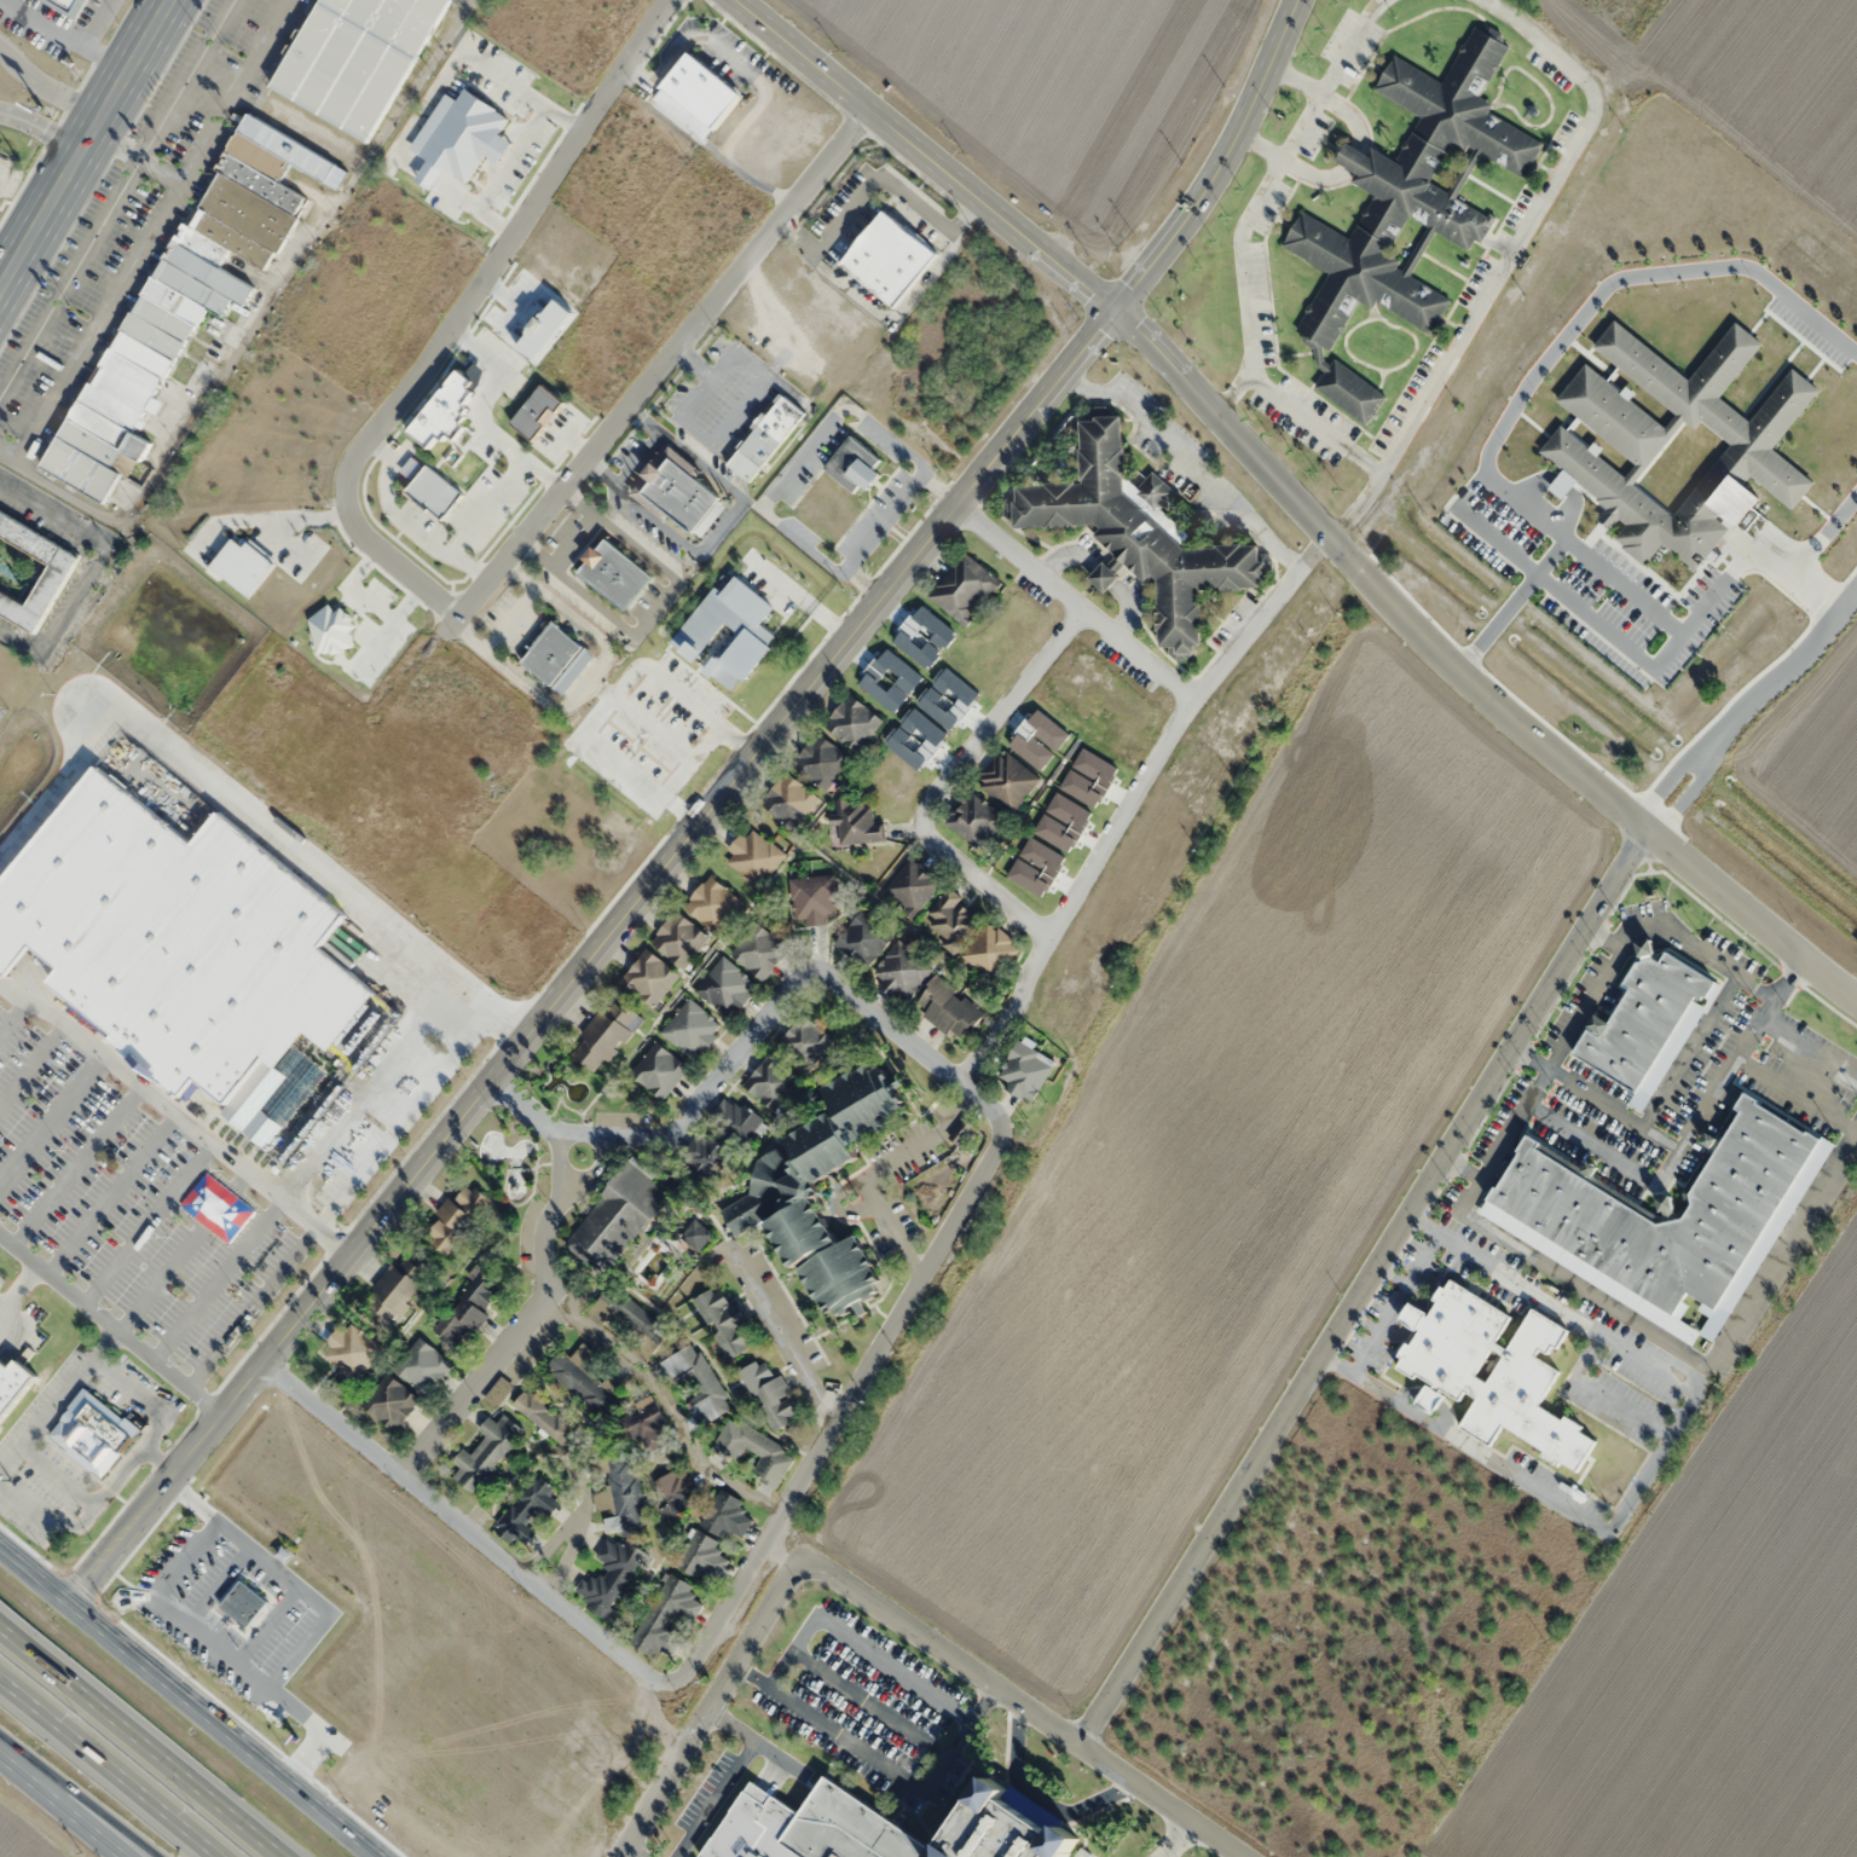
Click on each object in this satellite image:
building: (66, 6)
building: (355, 57)
road: (45, 86)
building: (696, 94)
road: (40, 129)
road: (83, 141)
building: (287, 146)
road: (920, 155)
road: (116, 197)
building: (1407, 208)
road: (150, 236)
road: (8, 250)
building: (887, 258)
building: (169, 317)
road: (458, 320)
road: (654, 371)
building: (766, 436)
road: (802, 455)
road: (637, 459)
building: (854, 464)
building: (676, 488)
road: (939, 490)
road: (885, 523)
road: (722, 527)
building: (1138, 532)
road: (92, 563)
building: (614, 573)
building: (54, 575)
road: (864, 584)
building: (964, 588)
road: (1076, 601)
building: (551, 653)
road: (1466, 672)
building: (852, 723)
building: (821, 760)
road: (947, 780)
building: (1007, 780)
road: (1132, 797)
building: (788, 800)
road: (704, 820)
building: (973, 820)
building: (857, 822)
building: (752, 856)
building: (910, 887)
building: (814, 898)
building: (712, 903)
building: (951, 920)
building: (863, 938)
building: (679, 939)
building: (759, 950)
building: (989, 953)
building: (192, 958)
building: (901, 971)
building: (649, 977)
building: (725, 988)
road: (1755, 990)
road: (1585, 1007)
building: (948, 1008)
road: (13, 1016)
building: (1642, 1019)
road: (890, 1023)
building: (692, 1029)
building: (604, 1034)
road: (1696, 1041)
building: (804, 1042)
road: (1810, 1054)
road: (1528, 1057)
road: (33, 1064)
building: (1024, 1069)
building: (659, 1070)
building: (771, 1081)
road: (702, 1097)
road: (1798, 1097)
road: (178, 1116)
road: (52, 1120)
road: (1664, 1139)
building: (706, 1155)
road: (77, 1165)
road: (1649, 1181)
building: (786, 1187)
road: (110, 1193)
building: (1666, 1210)
building: (456, 1216)
building: (619, 1216)
road: (147, 1223)
road: (181, 1251)
road: (1390, 1274)
road: (216, 1279)
road: (1360, 1284)
road: (18, 1288)
building: (397, 1289)
road: (544, 1289)
road: (1395, 1302)
road: (2, 1303)
road: (249, 1307)
building: (468, 1308)
building: (624, 1312)
road: (1361, 1320)
building: (724, 1323)
road: (111, 1325)
road: (783, 1334)
road: (102, 1344)
building: (351, 1349)
road: (1684, 1350)
building: (423, 1365)
building: (1493, 1371)
building: (584, 1381)
building: (13, 1382)
building: (698, 1383)
building: (769, 1393)
road: (1598, 1394)
building: (1430, 1399)
building: (391, 1401)
road: (666, 1401)
road: (44, 1413)
building: (545, 1419)
building: (644, 1423)
building: (96, 1434)
building: (754, 1451)
building: (486, 1452)
road: (161, 1459)
road: (1653, 1464)
road: (123, 1474)
road: (58, 1475)
building: (677, 1493)
building: (624, 1494)
building: (527, 1510)
building: (728, 1516)
road: (574, 1537)
building: (701, 1557)
building: (609, 1577)
road: (727, 1603)
road: (874, 1604)
building: (669, 1615)
road: (181, 1710)
road: (146, 1736)
road: (106, 1771)
road: (65, 1809)
road: (57, 1811)
building: (847, 1816)

